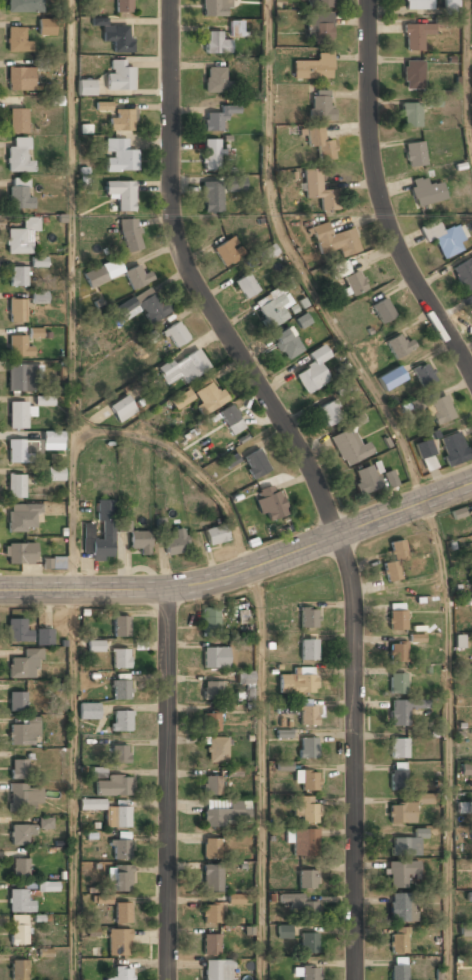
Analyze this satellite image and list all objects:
building: (319, 4)
building: (417, 4)
building: (451, 5)
building: (24, 6)
building: (124, 6)
building: (217, 8)
building: (46, 26)
building: (236, 28)
building: (319, 28)
building: (115, 35)
building: (416, 36)
building: (17, 40)
building: (216, 42)
building: (313, 66)
road: (465, 74)
building: (119, 75)
building: (412, 75)
building: (20, 78)
building: (215, 79)
building: (85, 87)
building: (320, 103)
building: (103, 106)
building: (410, 115)
building: (122, 120)
building: (17, 121)
building: (213, 121)
building: (322, 142)
building: (414, 153)
building: (211, 154)
building: (18, 155)
building: (120, 156)
building: (235, 183)
building: (319, 190)
building: (426, 190)
building: (19, 194)
building: (121, 194)
building: (211, 197)
road: (380, 199)
building: (129, 235)
building: (442, 236)
building: (21, 237)
building: (334, 240)
building: (228, 252)
building: (267, 253)
building: (39, 261)
road: (296, 264)
building: (464, 273)
building: (116, 274)
building: (18, 277)
building: (349, 279)
building: (245, 286)
road: (72, 295)
building: (39, 297)
building: (471, 301)
building: (143, 306)
building: (272, 308)
building: (16, 310)
building: (383, 310)
building: (35, 332)
building: (175, 335)
building: (150, 337)
building: (286, 343)
building: (399, 345)
building: (18, 346)
building: (183, 367)
building: (313, 371)
building: (423, 375)
building: (20, 378)
building: (391, 378)
building: (202, 397)
building: (44, 400)
building: (122, 408)
building: (439, 409)
building: (328, 413)
building: (17, 415)
building: (231, 420)
building: (53, 441)
building: (348, 447)
building: (454, 449)
building: (20, 450)
building: (425, 454)
road: (187, 464)
building: (255, 464)
building: (55, 474)
road: (311, 475)
building: (366, 479)
building: (391, 480)
building: (16, 487)
building: (270, 503)
building: (457, 513)
building: (30, 514)
building: (471, 514)
building: (124, 525)
building: (100, 534)
building: (216, 534)
building: (140, 542)
building: (176, 543)
building: (20, 554)
building: (394, 560)
building: (53, 562)
road: (243, 571)
building: (396, 616)
building: (308, 618)
building: (210, 621)
building: (120, 627)
building: (17, 630)
building: (44, 637)
building: (416, 638)
building: (95, 646)
building: (309, 650)
building: (397, 651)
building: (120, 658)
building: (214, 658)
building: (24, 664)
building: (244, 678)
building: (297, 682)
building: (397, 682)
building: (120, 689)
building: (211, 690)
building: (17, 701)
building: (88, 710)
building: (403, 710)
building: (307, 715)
building: (121, 719)
building: (210, 722)
building: (24, 732)
road: (449, 738)
building: (399, 746)
building: (307, 747)
building: (217, 750)
building: (120, 753)
building: (18, 768)
building: (466, 769)
building: (98, 772)
road: (261, 774)
building: (398, 775)
building: (307, 780)
road: (168, 784)
road: (74, 785)
building: (113, 785)
building: (212, 786)
building: (25, 796)
building: (424, 799)
building: (109, 810)
building: (305, 810)
building: (401, 812)
building: (467, 812)
building: (221, 816)
building: (43, 822)
building: (20, 834)
building: (304, 843)
building: (407, 844)
building: (120, 847)
building: (210, 848)
building: (20, 868)
building: (400, 872)
building: (211, 877)
building: (121, 878)
building: (307, 880)
building: (47, 886)
building: (469, 896)
building: (103, 899)
building: (235, 899)
building: (19, 901)
building: (300, 905)
building: (398, 907)
building: (210, 912)
building: (123, 913)
building: (19, 930)
building: (466, 930)
building: (284, 931)
building: (398, 940)
building: (118, 942)
building: (308, 942)
building: (211, 944)
building: (18, 970)
building: (218, 970)
building: (398, 971)
building: (309, 973)
building: (121, 974)

